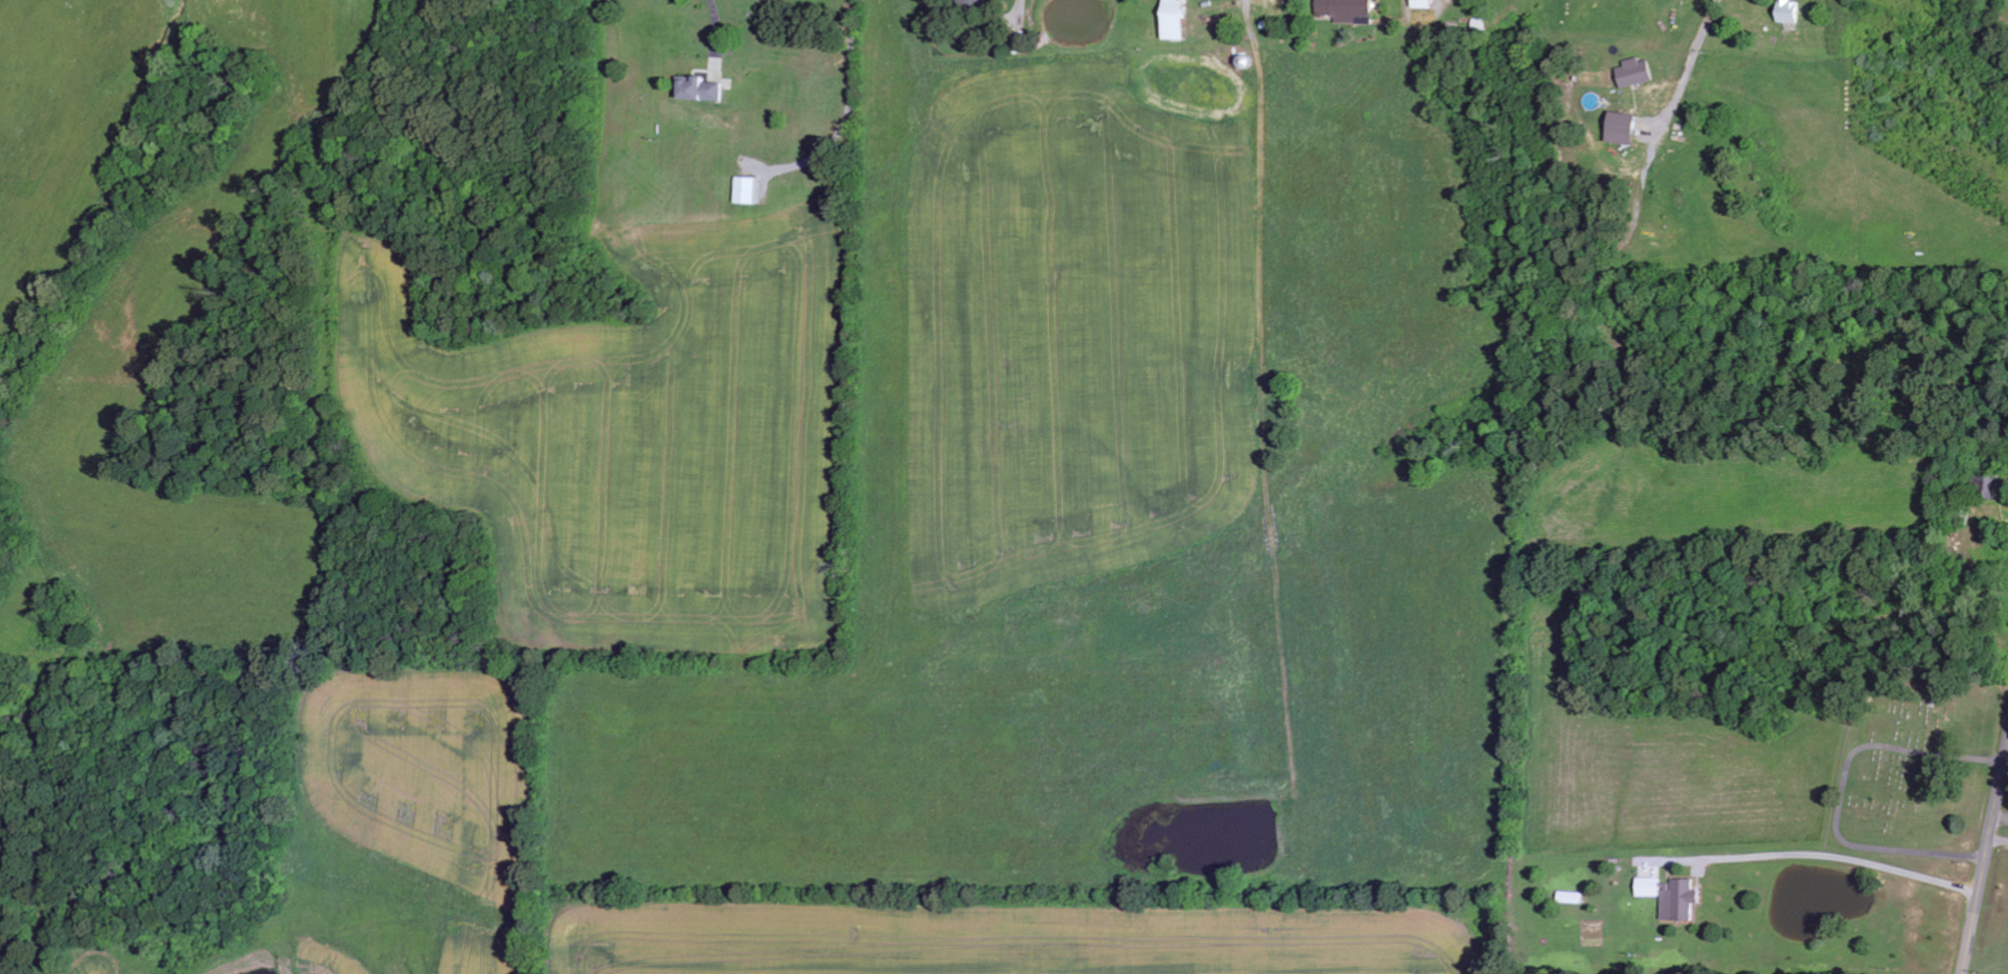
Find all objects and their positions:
building: (1427, 3)
building: (984, 5)
building: (1351, 10)
building: (1794, 11)
building: (1180, 19)
building: (1638, 72)
building: (704, 89)
building: (1627, 128)
building: (750, 190)
road: (2007, 759)
park: (1914, 768)
road: (2001, 814)
road: (1985, 861)
building: (1652, 886)
building: (1683, 899)

